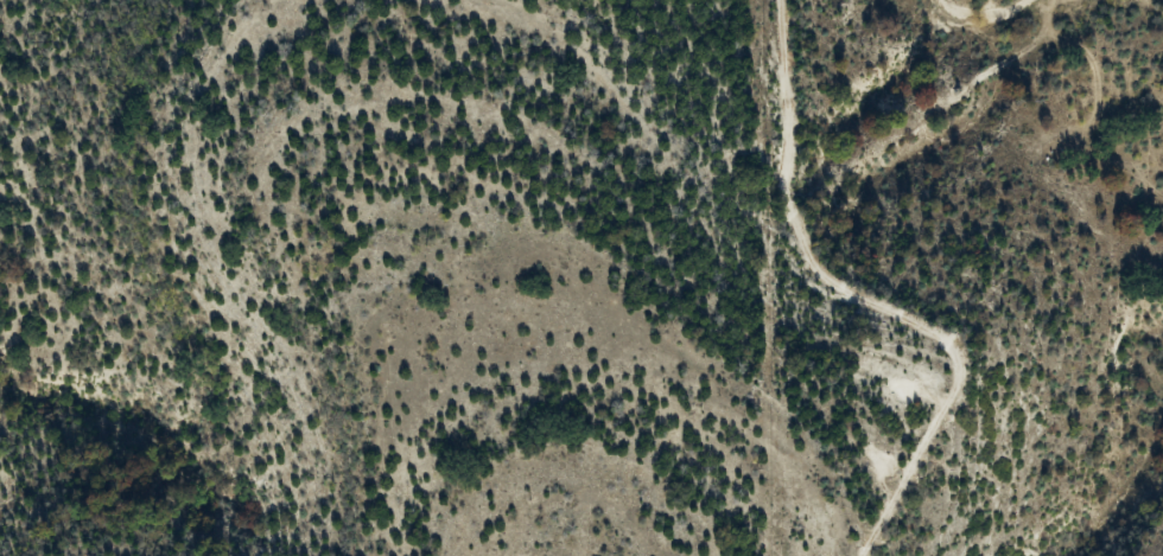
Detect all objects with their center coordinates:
road: (1154, 12)

